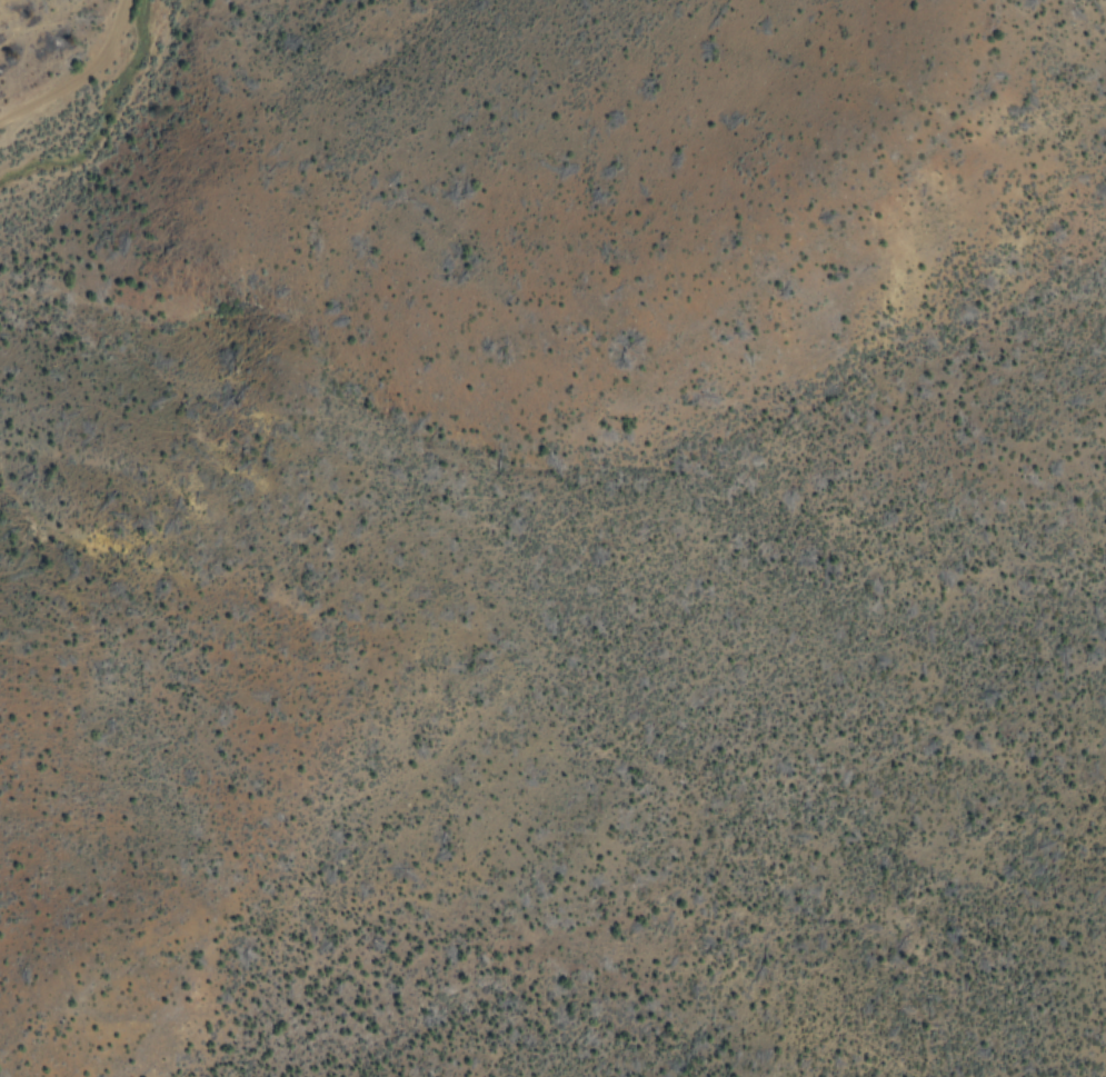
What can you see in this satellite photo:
road: (70, 62)

